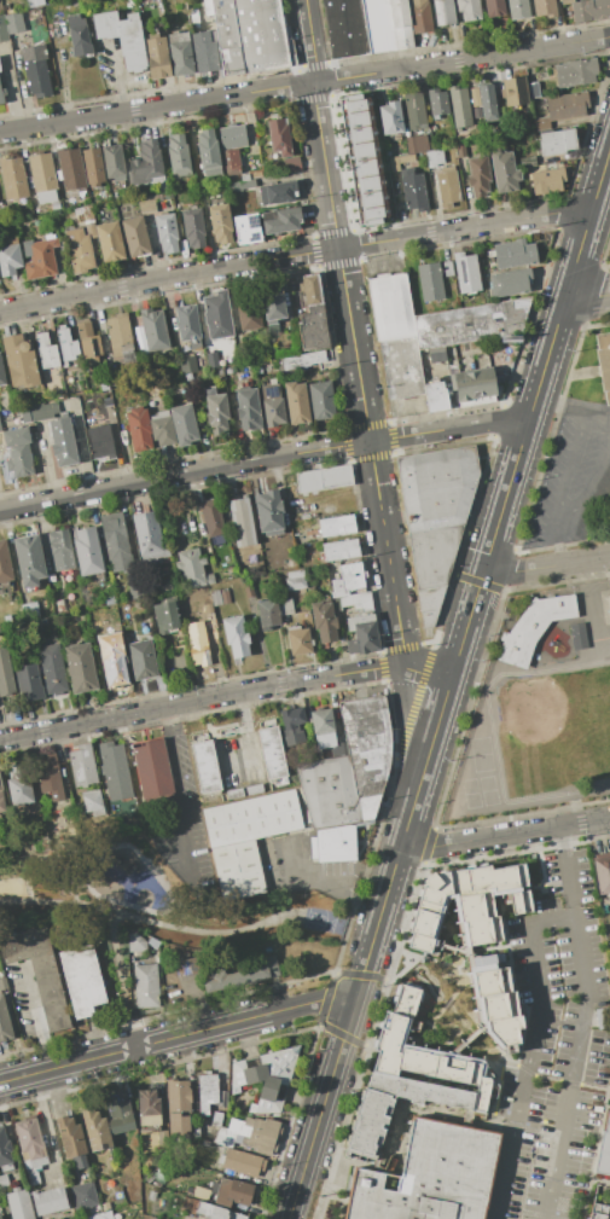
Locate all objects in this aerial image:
building: (567, 1)
building: (34, 2)
building: (494, 7)
building: (518, 8)
building: (545, 8)
building: (467, 10)
building: (589, 10)
building: (35, 12)
building: (443, 12)
building: (420, 14)
building: (14, 22)
building: (387, 24)
building: (344, 28)
building: (2, 29)
building: (77, 35)
building: (122, 35)
building: (249, 35)
building: (203, 52)
building: (180, 53)
building: (158, 58)
building: (36, 70)
building: (576, 72)
road: (118, 77)
road: (304, 83)
building: (534, 89)
building: (515, 92)
building: (472, 97)
building: (0, 98)
building: (437, 101)
building: (486, 103)
building: (460, 106)
building: (567, 106)
building: (416, 111)
building: (391, 117)
road: (316, 124)
building: (279, 135)
building: (232, 137)
building: (554, 143)
building: (417, 144)
building: (461, 150)
building: (208, 152)
building: (178, 155)
building: (435, 158)
building: (361, 159)
building: (400, 161)
building: (114, 162)
building: (231, 162)
building: (146, 163)
building: (291, 163)
building: (93, 167)
building: (70, 168)
building: (504, 172)
building: (478, 175)
building: (42, 176)
road: (600, 176)
building: (13, 179)
building: (546, 181)
building: (243, 185)
building: (447, 186)
building: (414, 191)
building: (277, 193)
building: (83, 213)
building: (280, 220)
building: (220, 222)
building: (193, 227)
building: (246, 228)
building: (167, 232)
building: (135, 237)
building: (109, 242)
building: (79, 250)
building: (513, 254)
road: (295, 255)
road: (577, 255)
building: (10, 257)
building: (39, 259)
building: (447, 268)
building: (466, 272)
building: (430, 281)
building: (510, 281)
building: (312, 290)
road: (586, 297)
building: (274, 303)
building: (390, 307)
building: (217, 314)
building: (249, 315)
building: (187, 321)
building: (469, 323)
building: (153, 329)
building: (313, 329)
building: (120, 337)
building: (88, 344)
building: (66, 346)
building: (46, 352)
building: (437, 354)
road: (546, 359)
building: (211, 360)
building: (301, 360)
building: (19, 361)
building: (604, 361)
building: (187, 364)
building: (401, 367)
building: (1, 377)
building: (474, 383)
building: (103, 384)
building: (435, 396)
building: (105, 399)
building: (321, 400)
building: (296, 402)
building: (272, 405)
building: (248, 410)
road: (571, 410)
building: (43, 411)
building: (216, 411)
building: (184, 424)
building: (162, 428)
building: (0, 429)
building: (139, 429)
building: (14, 436)
building: (62, 442)
building: (100, 442)
road: (371, 457)
road: (263, 459)
building: (19, 460)
road: (43, 463)
building: (324, 478)
building: (268, 512)
building: (609, 512)
building: (436, 516)
road: (558, 516)
building: (211, 517)
building: (242, 522)
building: (337, 526)
building: (149, 536)
building: (116, 541)
road: (559, 544)
building: (59, 548)
building: (339, 550)
building: (87, 551)
building: (28, 557)
building: (4, 565)
road: (547, 565)
building: (191, 569)
building: (348, 577)
building: (296, 580)
road: (478, 586)
building: (134, 590)
building: (196, 594)
building: (109, 597)
building: (215, 597)
building: (609, 599)
building: (358, 600)
building: (336, 603)
building: (60, 605)
building: (285, 606)
building: (29, 611)
building: (267, 614)
building: (209, 615)
building: (164, 616)
building: (42, 621)
building: (324, 622)
building: (533, 627)
building: (361, 634)
building: (577, 635)
building: (236, 637)
building: (298, 640)
building: (198, 649)
building: (141, 660)
building: (114, 663)
building: (80, 668)
building: (53, 669)
road: (425, 672)
building: (5, 673)
building: (29, 683)
road: (199, 700)
building: (291, 718)
road: (246, 726)
building: (323, 729)
building: (294, 738)
building: (367, 742)
building: (271, 753)
building: (82, 765)
building: (204, 767)
building: (152, 768)
building: (115, 772)
building: (47, 777)
building: (18, 785)
road: (176, 789)
building: (254, 789)
building: (327, 790)
building: (233, 794)
building: (1, 800)
building: (92, 803)
road: (413, 803)
building: (367, 806)
building: (251, 818)
building: (0, 820)
road: (504, 835)
building: (335, 844)
building: (238, 870)
road: (567, 871)
building: (603, 873)
road: (312, 882)
building: (519, 901)
park: (172, 904)
building: (461, 904)
road: (379, 912)
road: (553, 919)
park: (324, 921)
road: (151, 923)
building: (152, 942)
building: (135, 944)
building: (184, 965)
building: (39, 971)
building: (242, 975)
road: (123, 977)
building: (82, 980)
building: (2, 983)
building: (146, 986)
road: (310, 1003)
building: (495, 1008)
road: (36, 1016)
building: (603, 1017)
building: (4, 1022)
road: (134, 1047)
building: (423, 1052)
building: (266, 1078)
building: (208, 1091)
road: (325, 1097)
building: (149, 1107)
building: (178, 1107)
building: (118, 1110)
building: (216, 1119)
building: (370, 1119)
building: (95, 1130)
building: (255, 1132)
building: (163, 1137)
building: (225, 1137)
building: (72, 1140)
building: (30, 1143)
building: (4, 1148)
building: (604, 1149)
building: (243, 1162)
building: (430, 1177)
building: (4, 1180)
building: (232, 1191)
building: (83, 1196)
building: (48, 1201)
building: (19, 1203)
building: (105, 1206)
building: (602, 1209)
building: (216, 1212)
building: (99, 1215)
building: (0, 1217)

